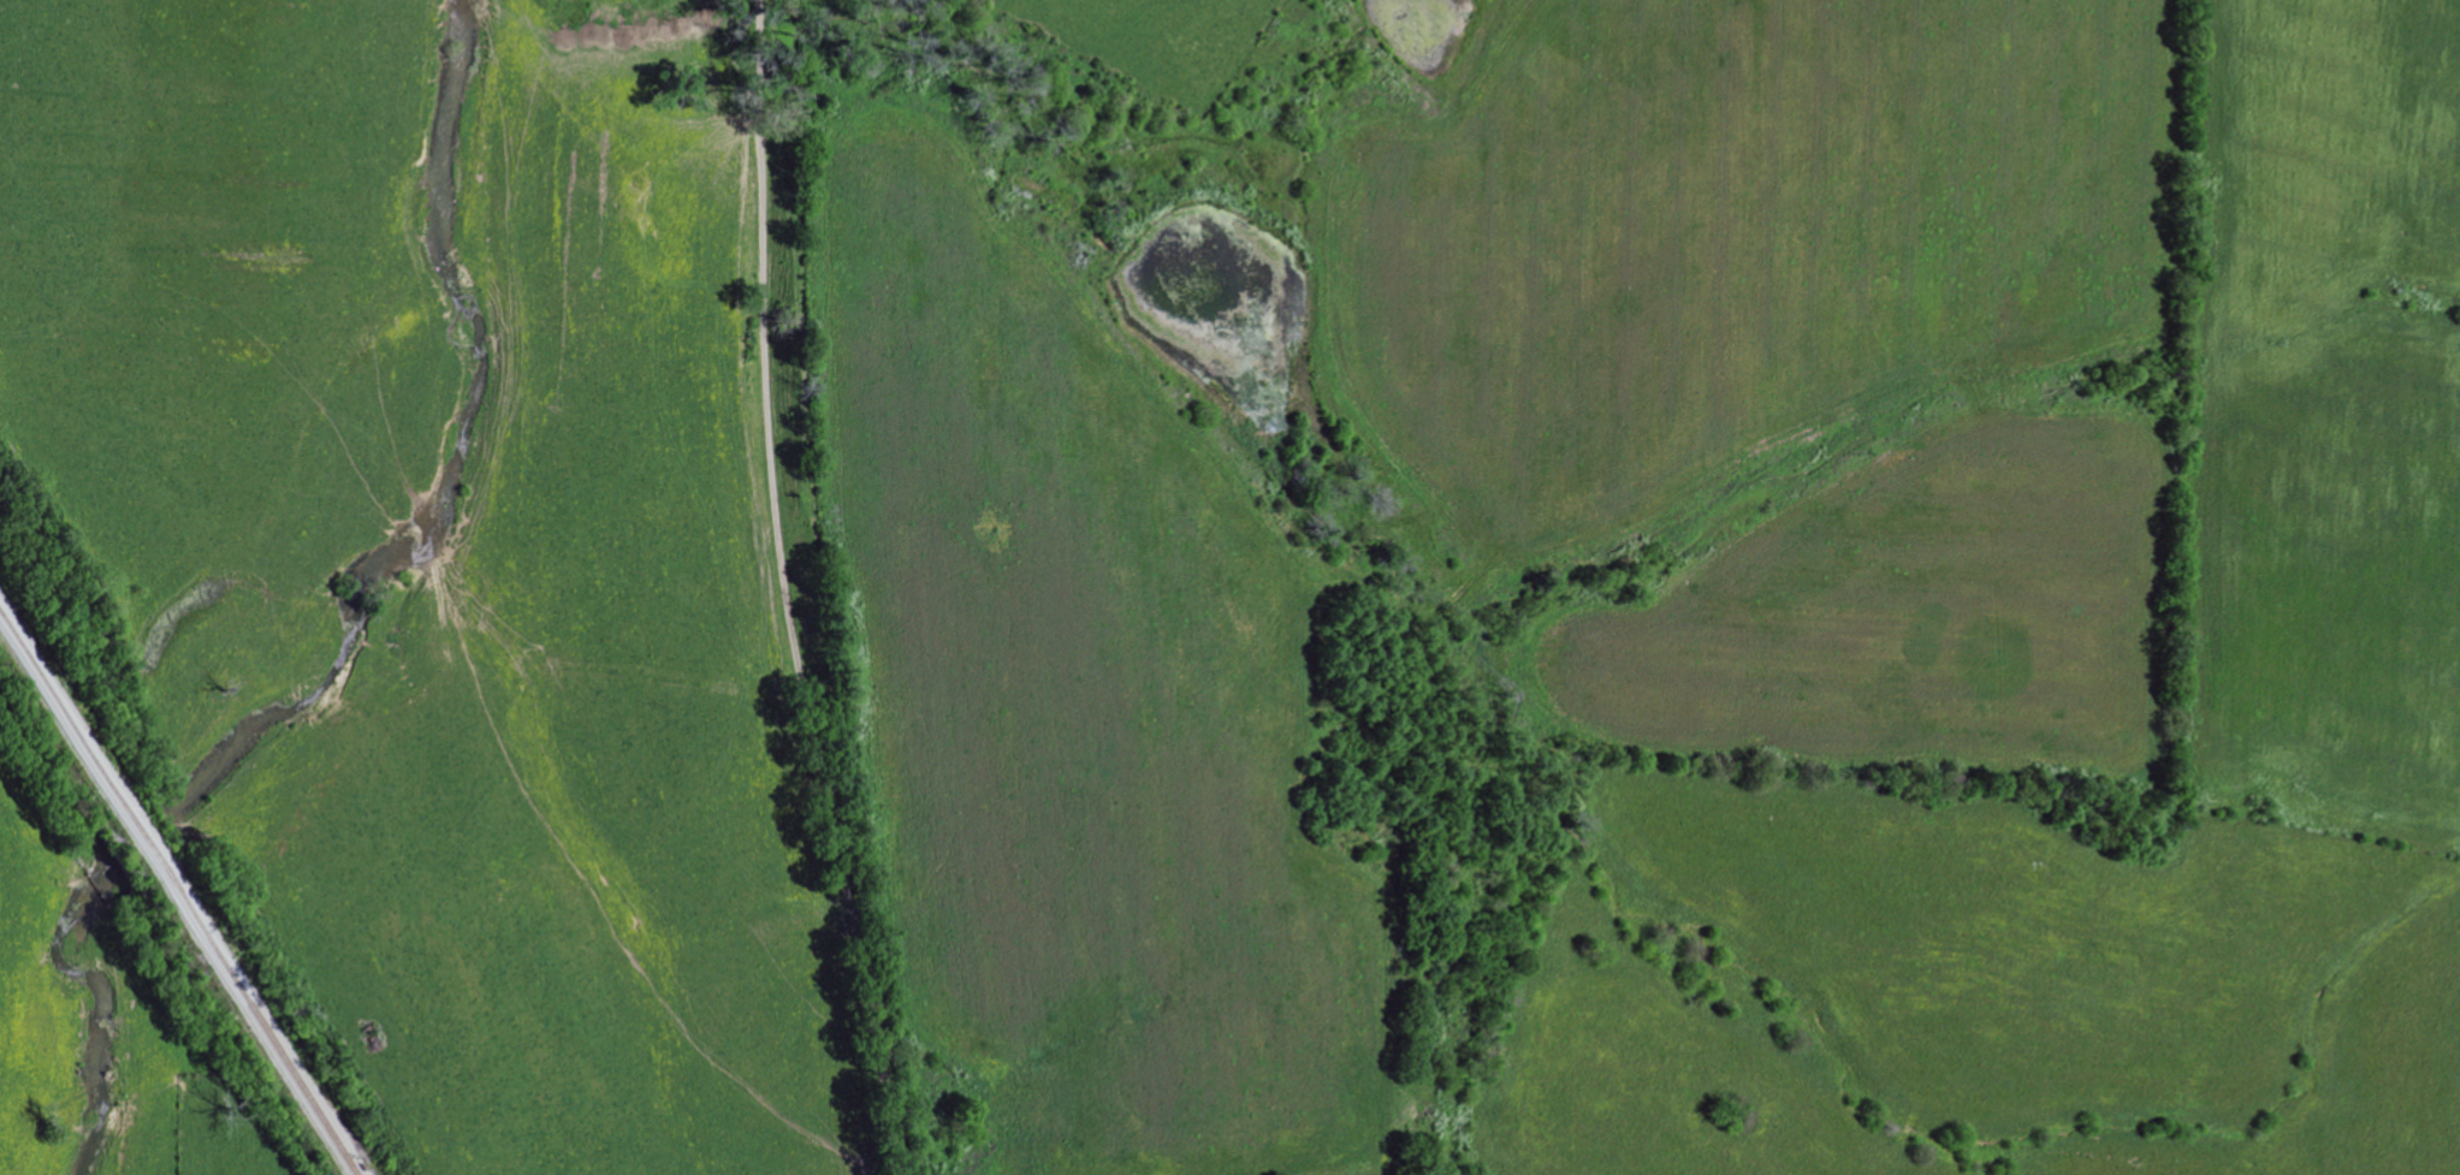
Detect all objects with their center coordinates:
railway: (174, 898)

